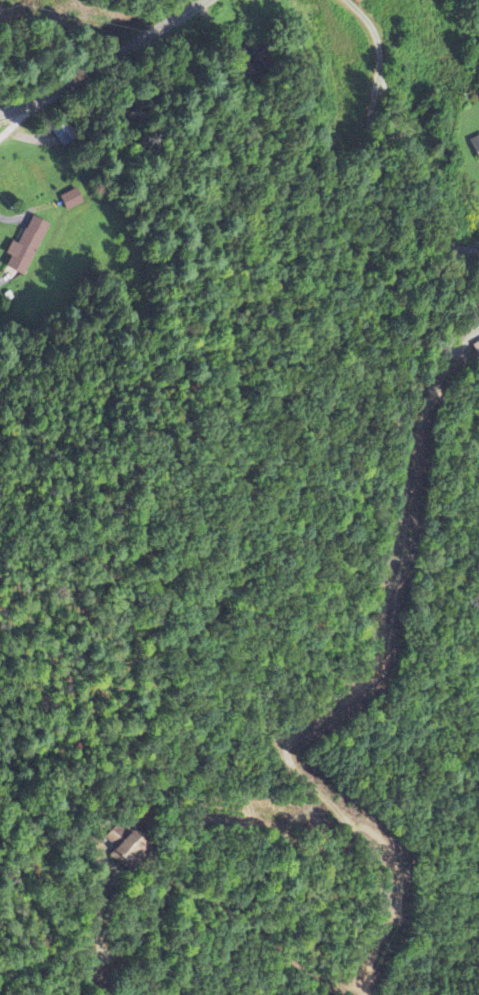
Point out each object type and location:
road: (101, 58)
road: (411, 76)
road: (13, 122)
building: (475, 146)
building: (71, 199)
building: (25, 246)
building: (476, 347)
road: (115, 825)
building: (123, 845)

